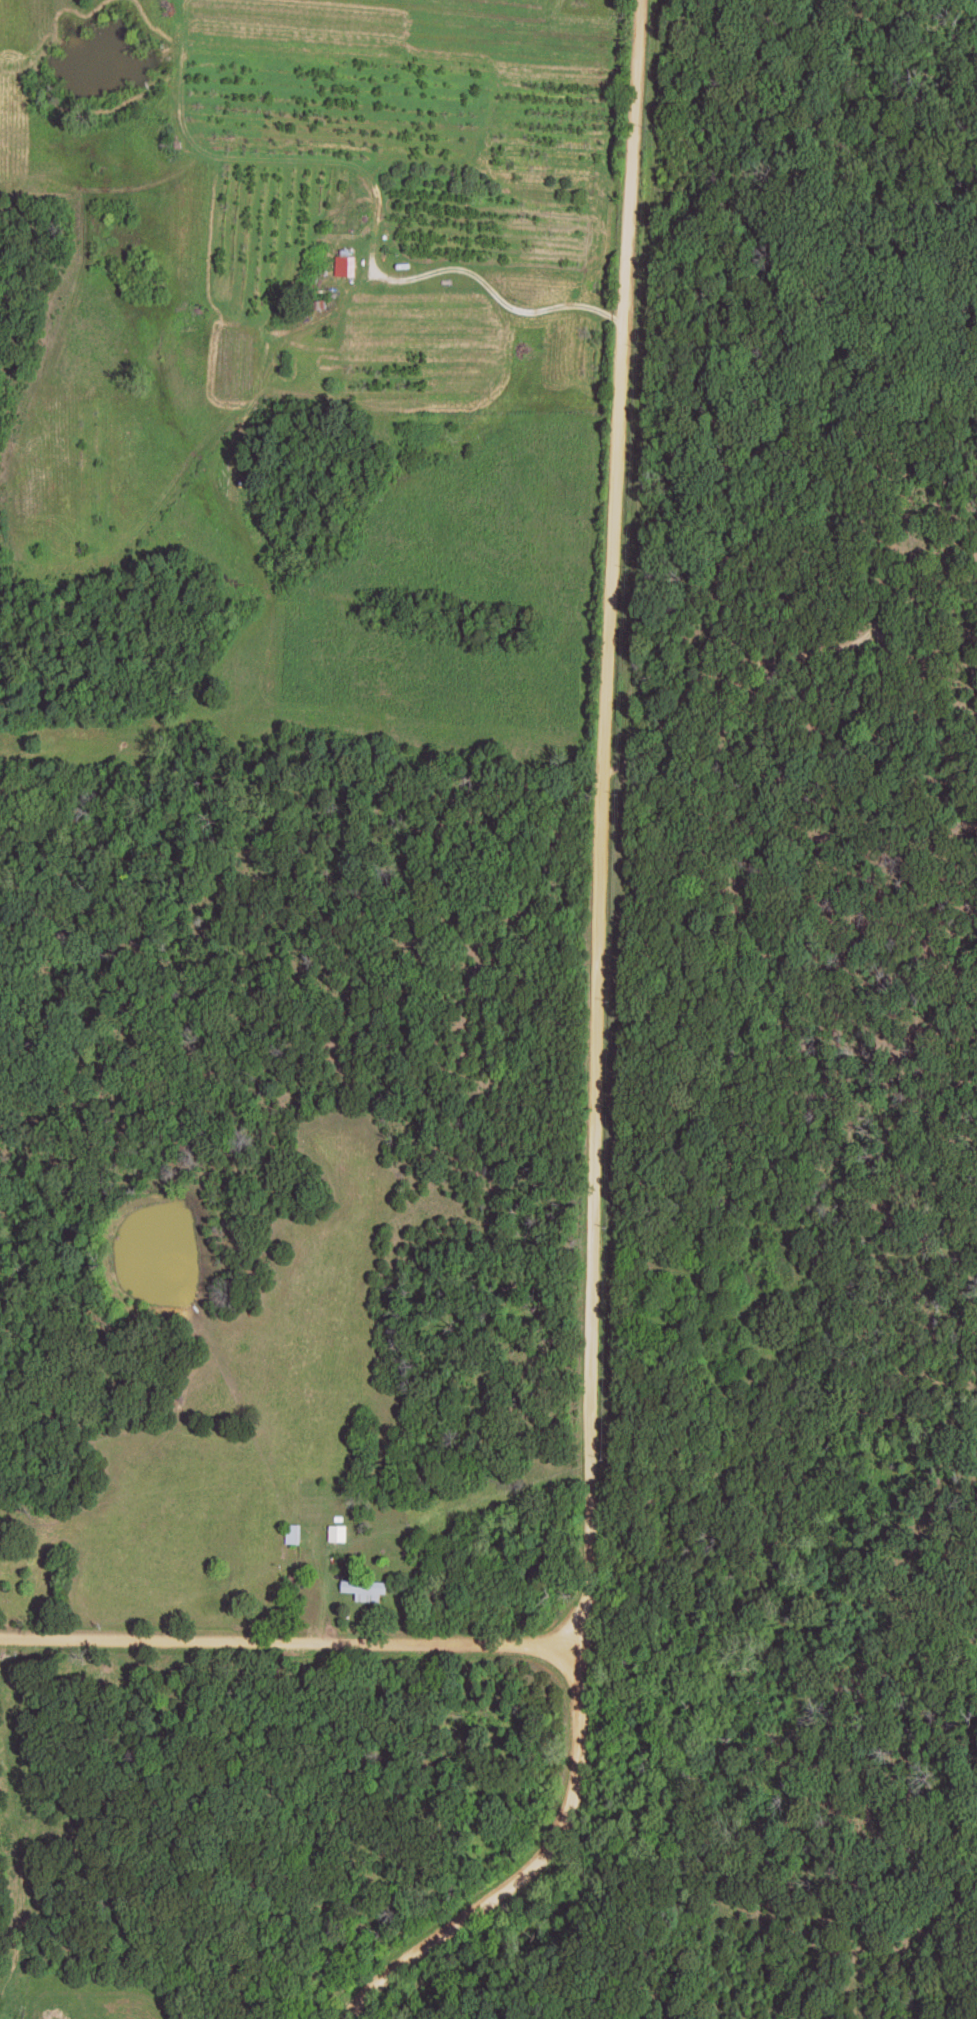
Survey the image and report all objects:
building: (346, 263)
road: (487, 285)
road: (607, 839)
building: (294, 1533)
building: (338, 1533)
building: (365, 1589)
road: (294, 1651)
road: (517, 1877)

